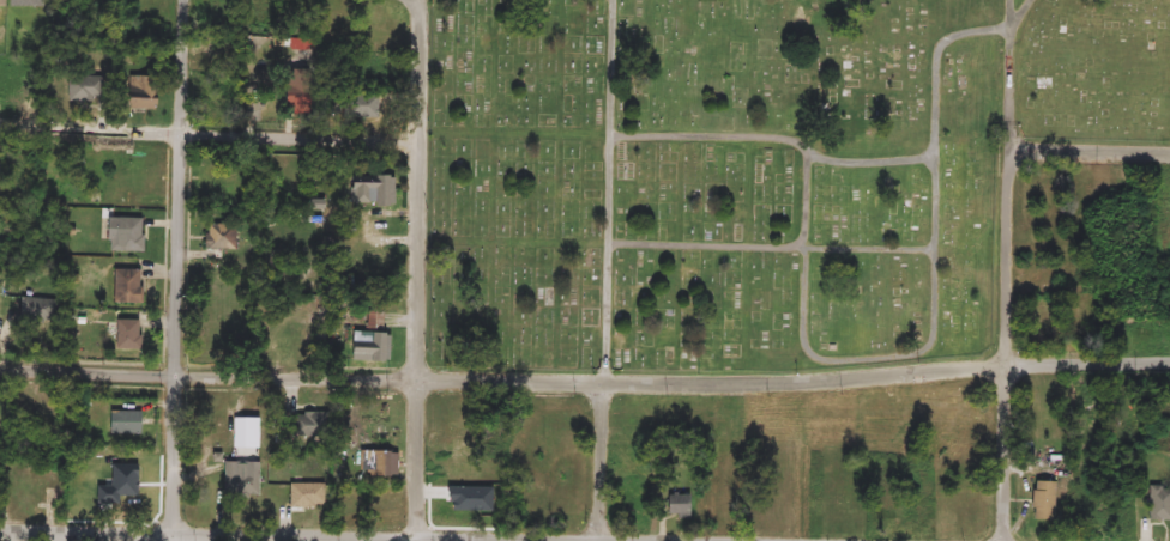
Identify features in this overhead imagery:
building: (1, 4)
building: (26, 4)
road: (1013, 14)
road: (1023, 14)
road: (610, 69)
building: (82, 90)
road: (1013, 91)
building: (138, 95)
building: (363, 107)
road: (210, 136)
road: (711, 140)
road: (1091, 154)
road: (873, 164)
park: (752, 170)
building: (373, 190)
building: (123, 236)
building: (222, 236)
road: (719, 248)
road: (1007, 260)
road: (418, 267)
road: (175, 270)
building: (123, 286)
building: (34, 310)
road: (607, 316)
building: (376, 317)
road: (937, 329)
building: (126, 335)
building: (368, 347)
road: (585, 384)
building: (123, 423)
building: (312, 425)
road: (1003, 454)
road: (800, 462)
road: (599, 463)
building: (376, 464)
building: (240, 486)
building: (306, 497)
building: (1042, 502)
building: (1159, 504)
building: (677, 506)
road: (175, 537)

